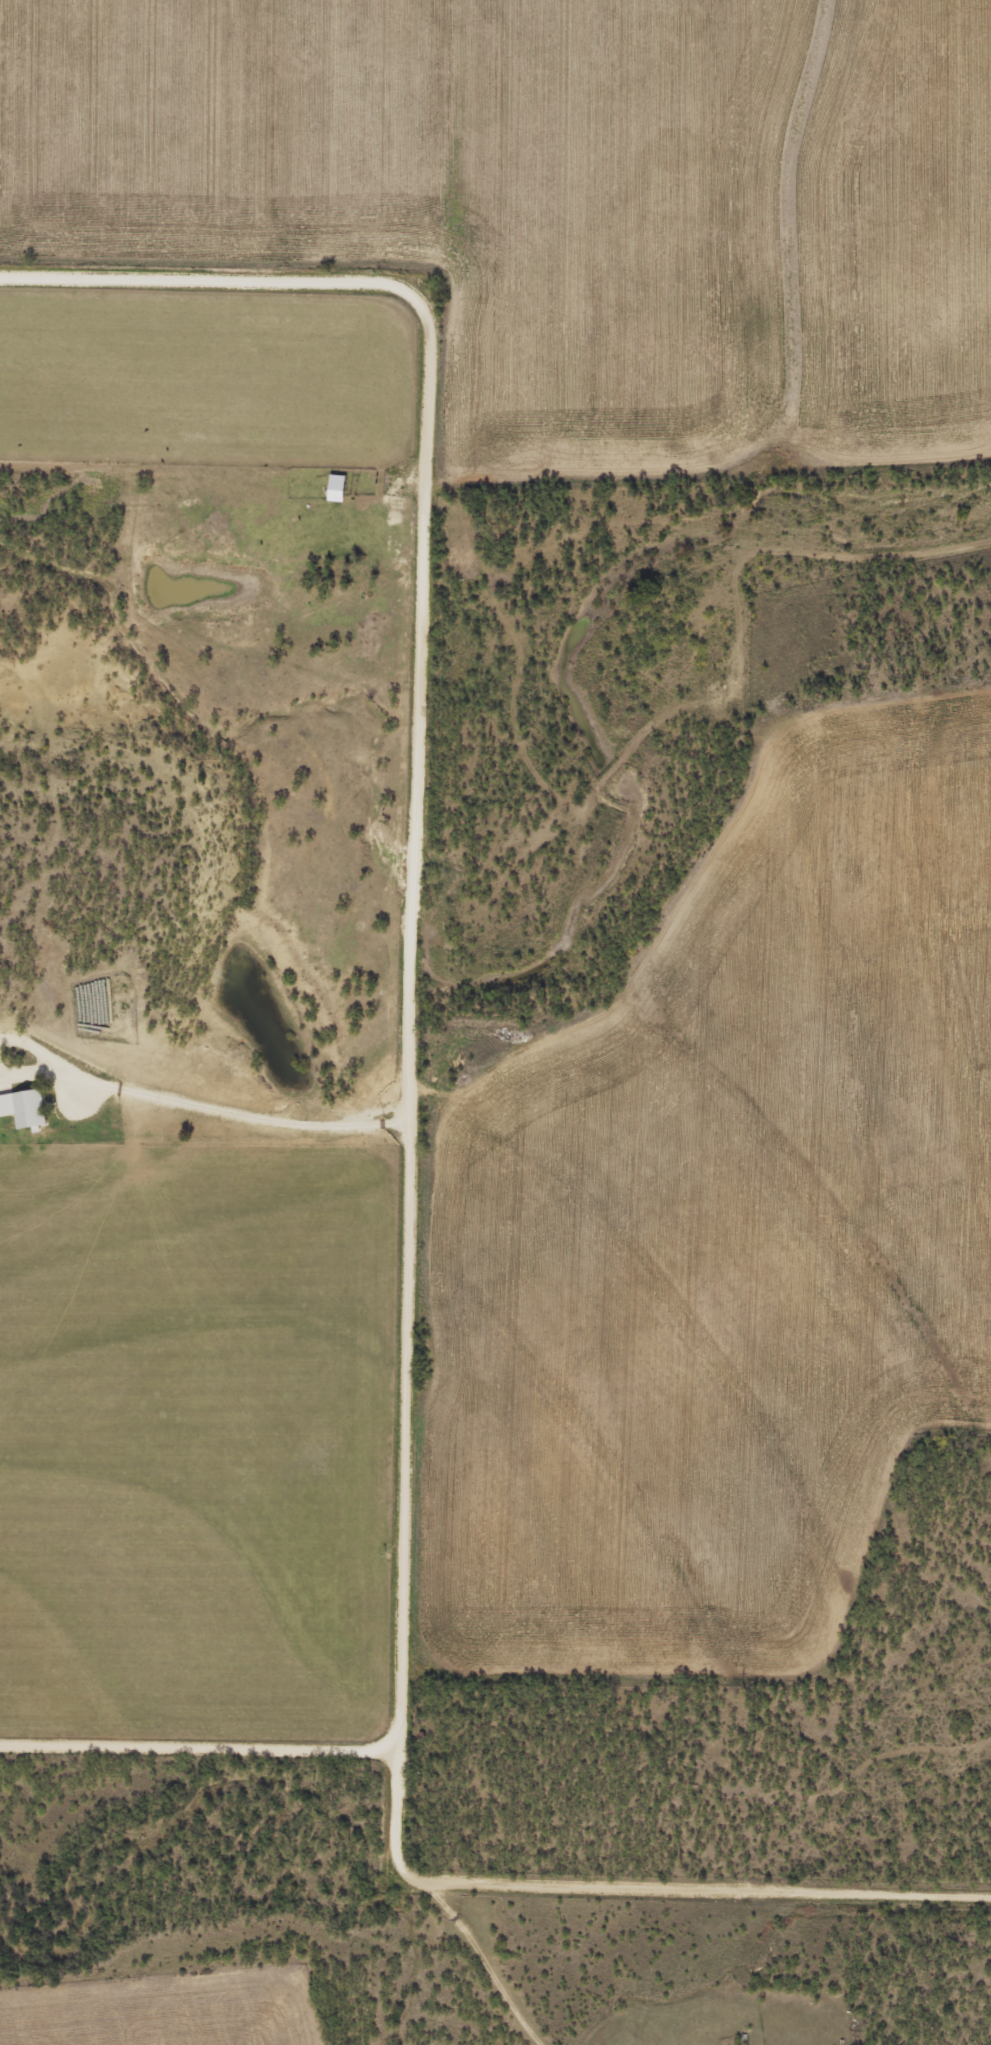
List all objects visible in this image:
building: (30, 1107)
road: (210, 1113)
road: (396, 1180)
road: (193, 1745)
road: (478, 1966)

